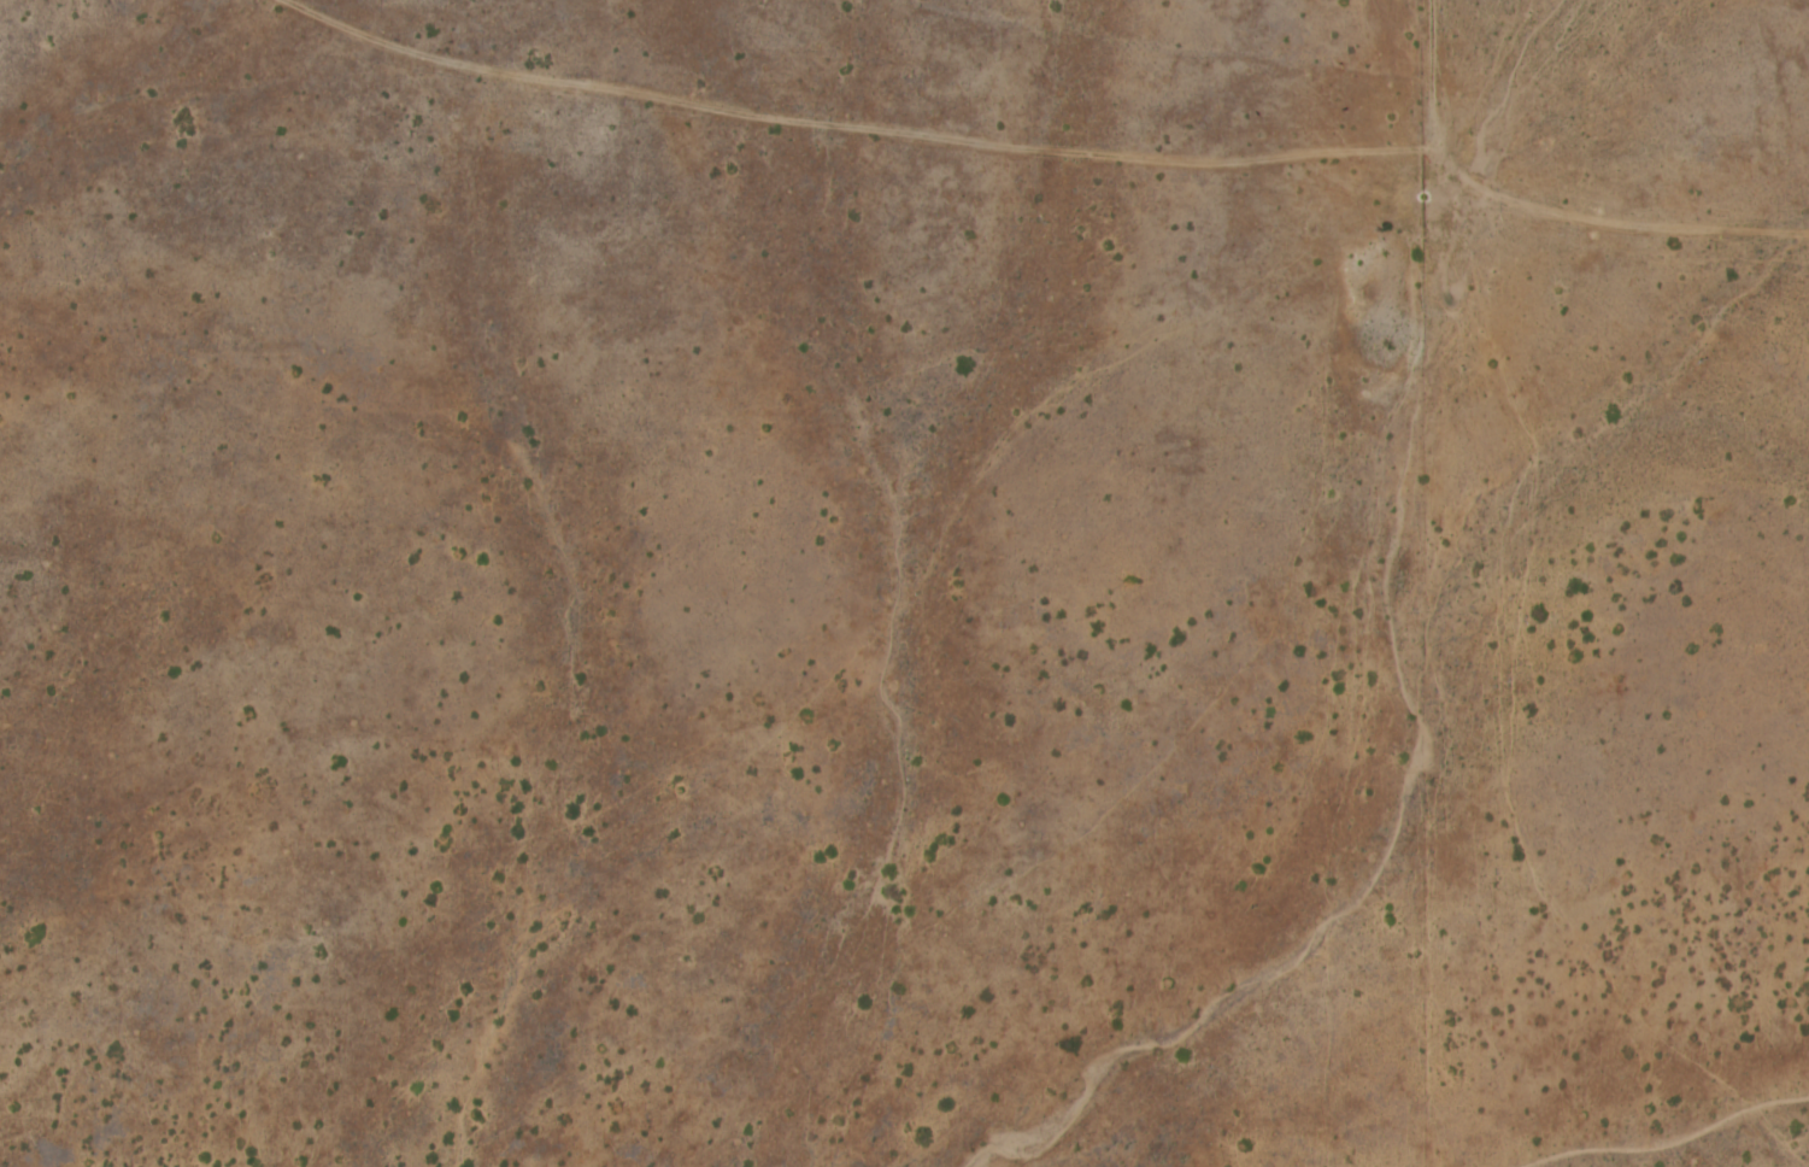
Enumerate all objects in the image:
road: (1533, 147)

